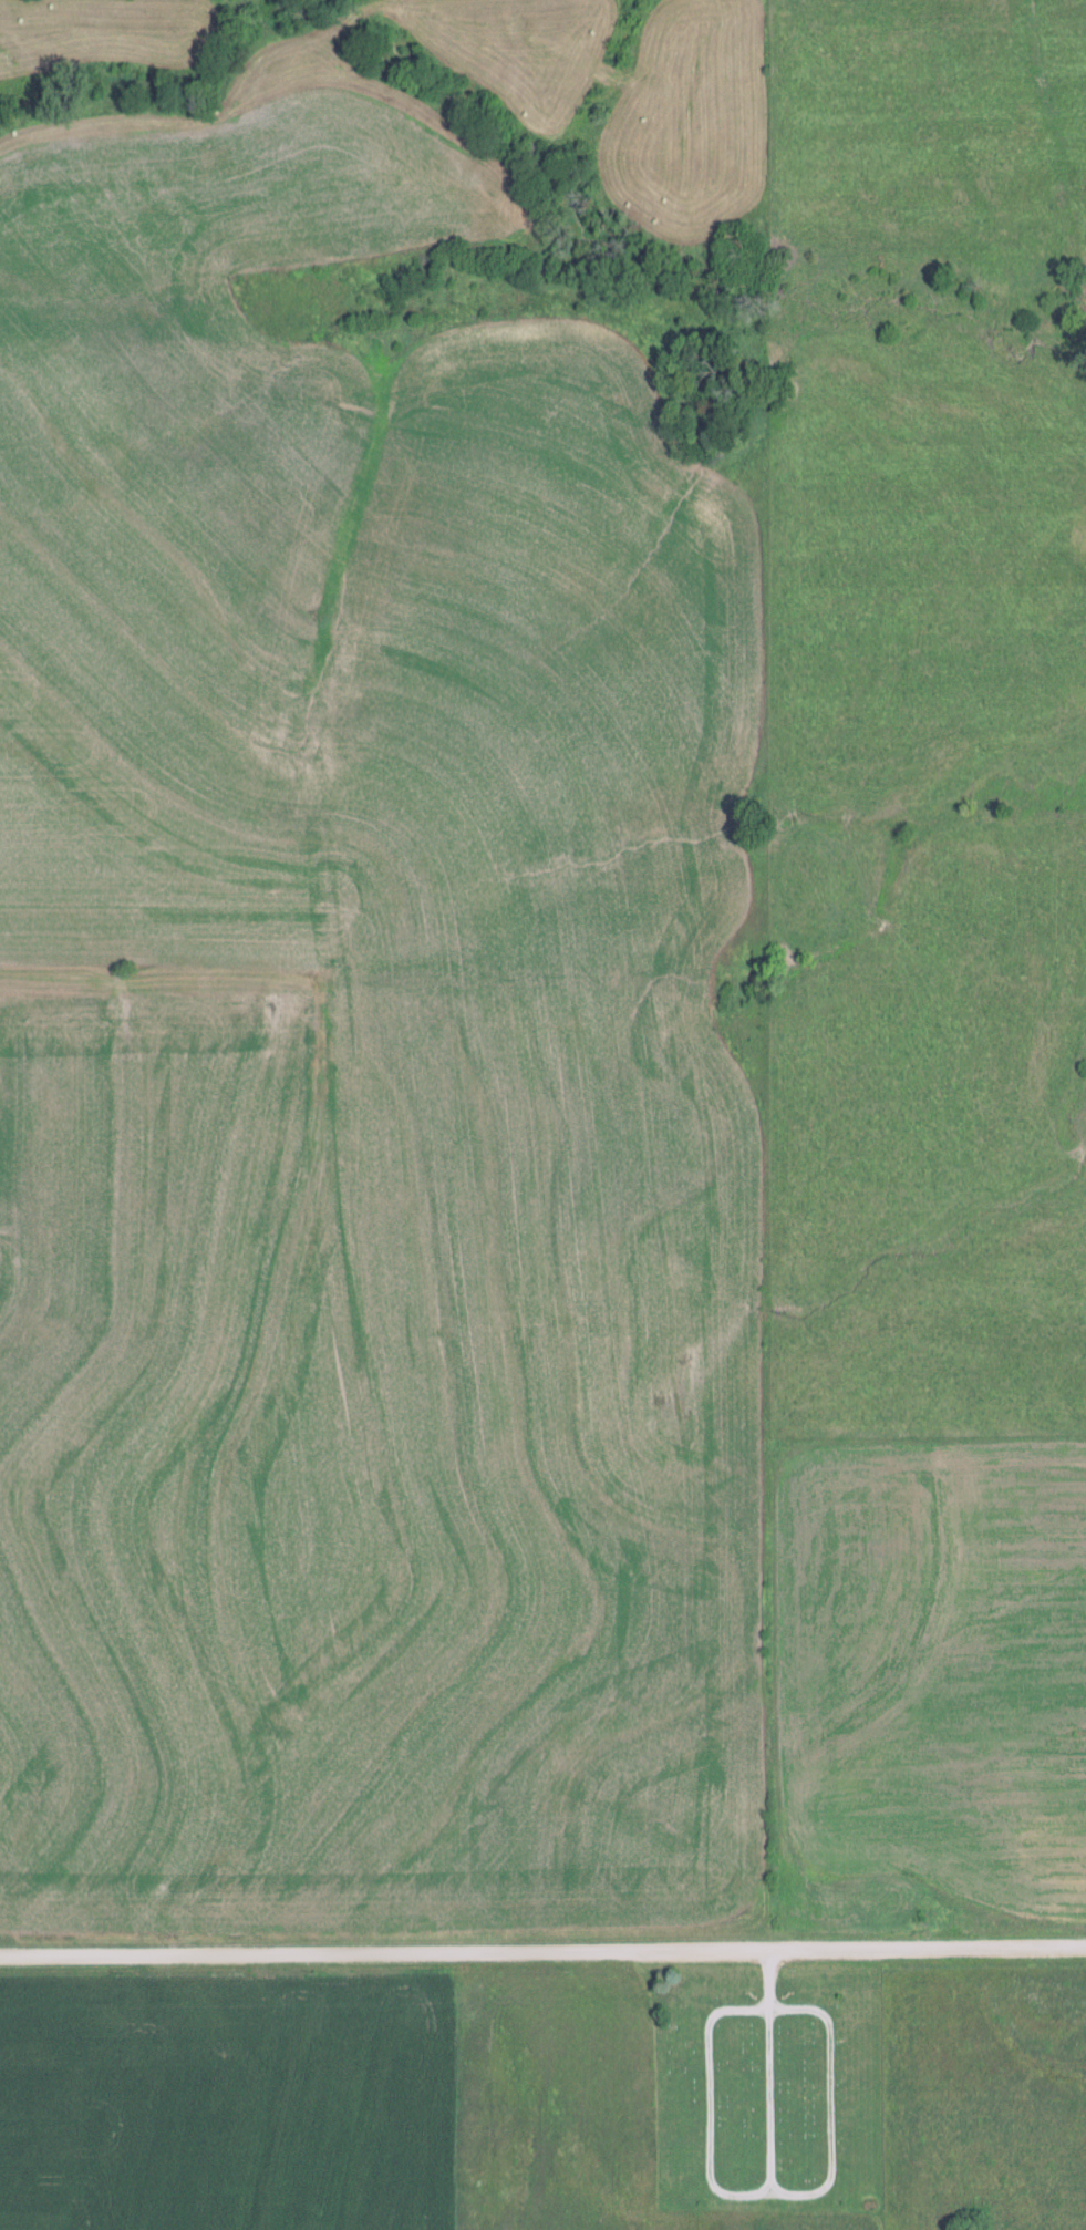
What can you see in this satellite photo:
road: (542, 1950)
park: (765, 2086)
crop: (287, 2108)

